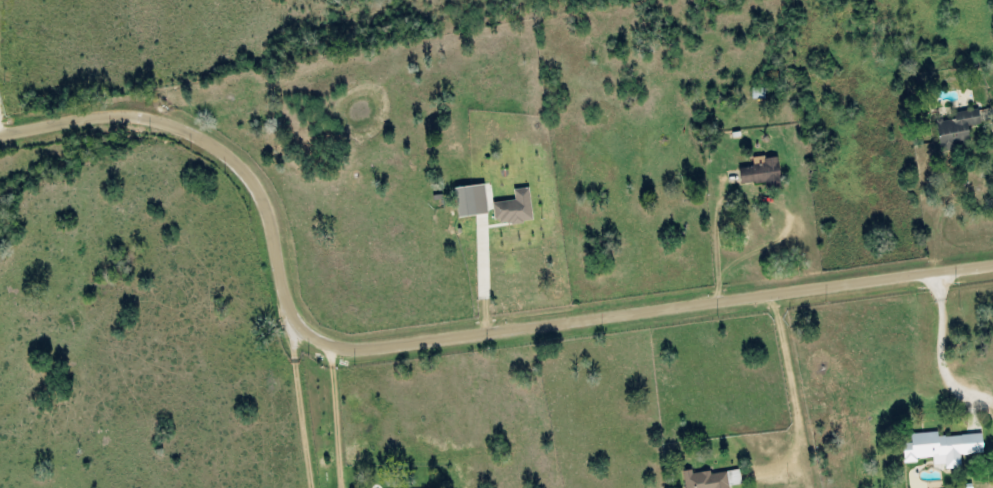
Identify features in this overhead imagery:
building: (758, 94)
building: (959, 129)
building: (763, 172)
building: (473, 201)
building: (516, 209)
road: (434, 336)
building: (944, 449)
building: (714, 479)

